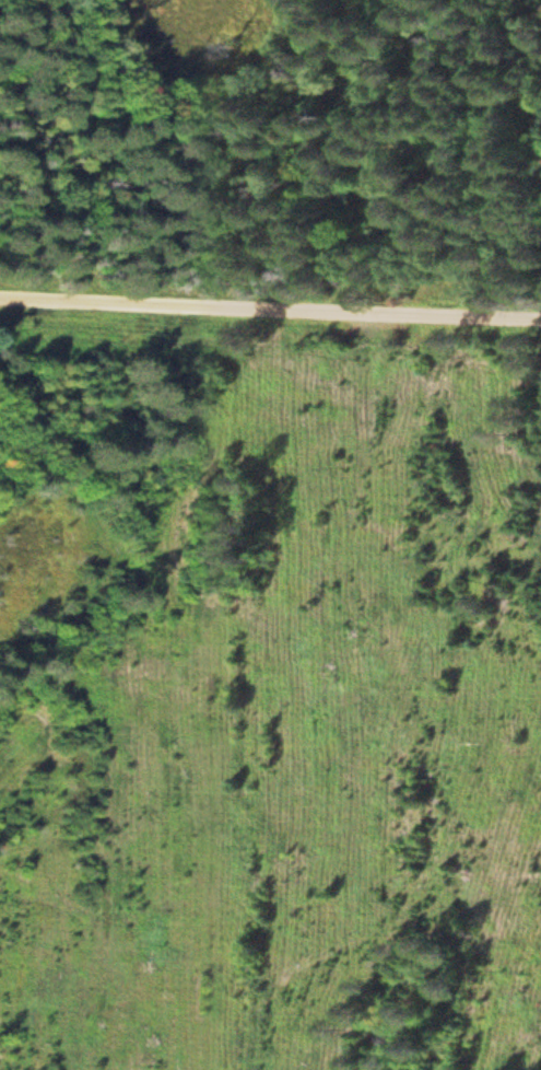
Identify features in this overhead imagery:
road: (270, 304)

